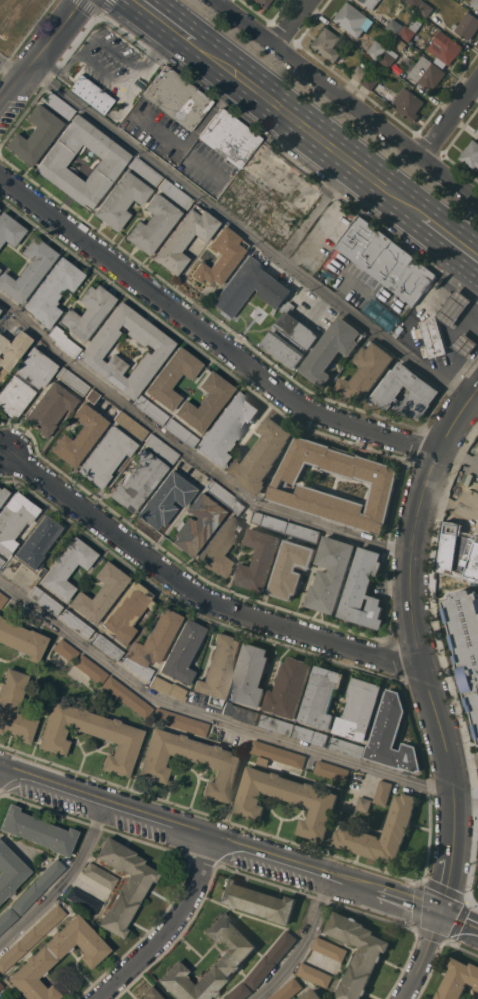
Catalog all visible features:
building: (371, 2)
building: (414, 2)
building: (262, 3)
building: (474, 3)
building: (425, 8)
road: (95, 12)
road: (181, 16)
building: (353, 19)
road: (291, 22)
building: (467, 25)
building: (394, 26)
building: (411, 30)
building: (327, 43)
building: (400, 43)
building: (444, 48)
road: (38, 49)
building: (376, 49)
building: (389, 57)
road: (9, 69)
building: (423, 71)
building: (360, 72)
building: (370, 82)
building: (90, 94)
building: (176, 99)
road: (346, 99)
building: (409, 104)
building: (57, 105)
road: (258, 110)
road: (449, 116)
building: (477, 131)
road: (340, 134)
building: (34, 135)
building: (228, 138)
building: (471, 153)
building: (110, 163)
building: (144, 171)
building: (174, 194)
building: (120, 200)
road: (312, 219)
building: (152, 224)
building: (9, 230)
road: (244, 235)
building: (184, 238)
road: (440, 249)
building: (220, 257)
building: (386, 260)
building: (27, 270)
building: (250, 287)
road: (459, 287)
building: (51, 291)
building: (454, 307)
building: (87, 313)
road: (472, 327)
road: (207, 335)
building: (290, 337)
building: (432, 337)
gas station: (432, 337)
building: (63, 341)
road: (450, 341)
building: (465, 344)
building: (12, 349)
building: (331, 349)
building: (93, 350)
building: (367, 370)
building: (172, 377)
building: (71, 381)
building: (24, 382)
building: (425, 389)
building: (204, 402)
building: (102, 404)
building: (49, 408)
building: (150, 410)
building: (130, 425)
building: (226, 428)
building: (180, 433)
building: (79, 436)
building: (160, 448)
road: (189, 454)
building: (105, 456)
building: (260, 456)
building: (137, 480)
building: (383, 484)
building: (3, 494)
building: (220, 494)
building: (165, 500)
building: (238, 507)
building: (14, 520)
building: (270, 521)
building: (196, 524)
building: (303, 531)
building: (37, 542)
building: (219, 547)
building: (259, 559)
building: (1, 561)
building: (67, 568)
building: (290, 568)
building: (331, 573)
building: (363, 590)
building: (100, 593)
road: (195, 595)
building: (2, 599)
building: (45, 601)
building: (126, 613)
building: (75, 624)
building: (21, 640)
building: (466, 640)
road: (416, 643)
building: (151, 644)
building: (106, 647)
building: (65, 650)
building: (181, 652)
road: (441, 659)
building: (90, 669)
building: (218, 669)
building: (250, 675)
building: (288, 687)
building: (167, 688)
building: (320, 696)
building: (127, 697)
building: (13, 706)
building: (359, 708)
building: (240, 712)
road: (210, 718)
building: (180, 722)
building: (277, 724)
building: (310, 735)
building: (392, 735)
building: (116, 736)
building: (346, 746)
building: (278, 753)
road: (462, 760)
building: (222, 767)
building: (331, 770)
building: (383, 791)
building: (311, 799)
building: (364, 803)
road: (465, 804)
road: (476, 813)
building: (397, 827)
building: (37, 831)
road: (239, 849)
building: (10, 872)
building: (99, 876)
building: (123, 884)
road: (64, 886)
building: (37, 887)
building: (82, 900)
building: (257, 900)
road: (471, 905)
traffic signals: (438, 911)
building: (6, 918)
road: (170, 929)
building: (30, 937)
road: (305, 946)
building: (329, 948)
building: (235, 953)
building: (357, 953)
road: (421, 956)
building: (56, 958)
building: (270, 959)
building: (314, 974)
building: (458, 978)
building: (0, 985)
building: (287, 989)
building: (238, 992)
building: (149, 994)
building: (312, 994)

